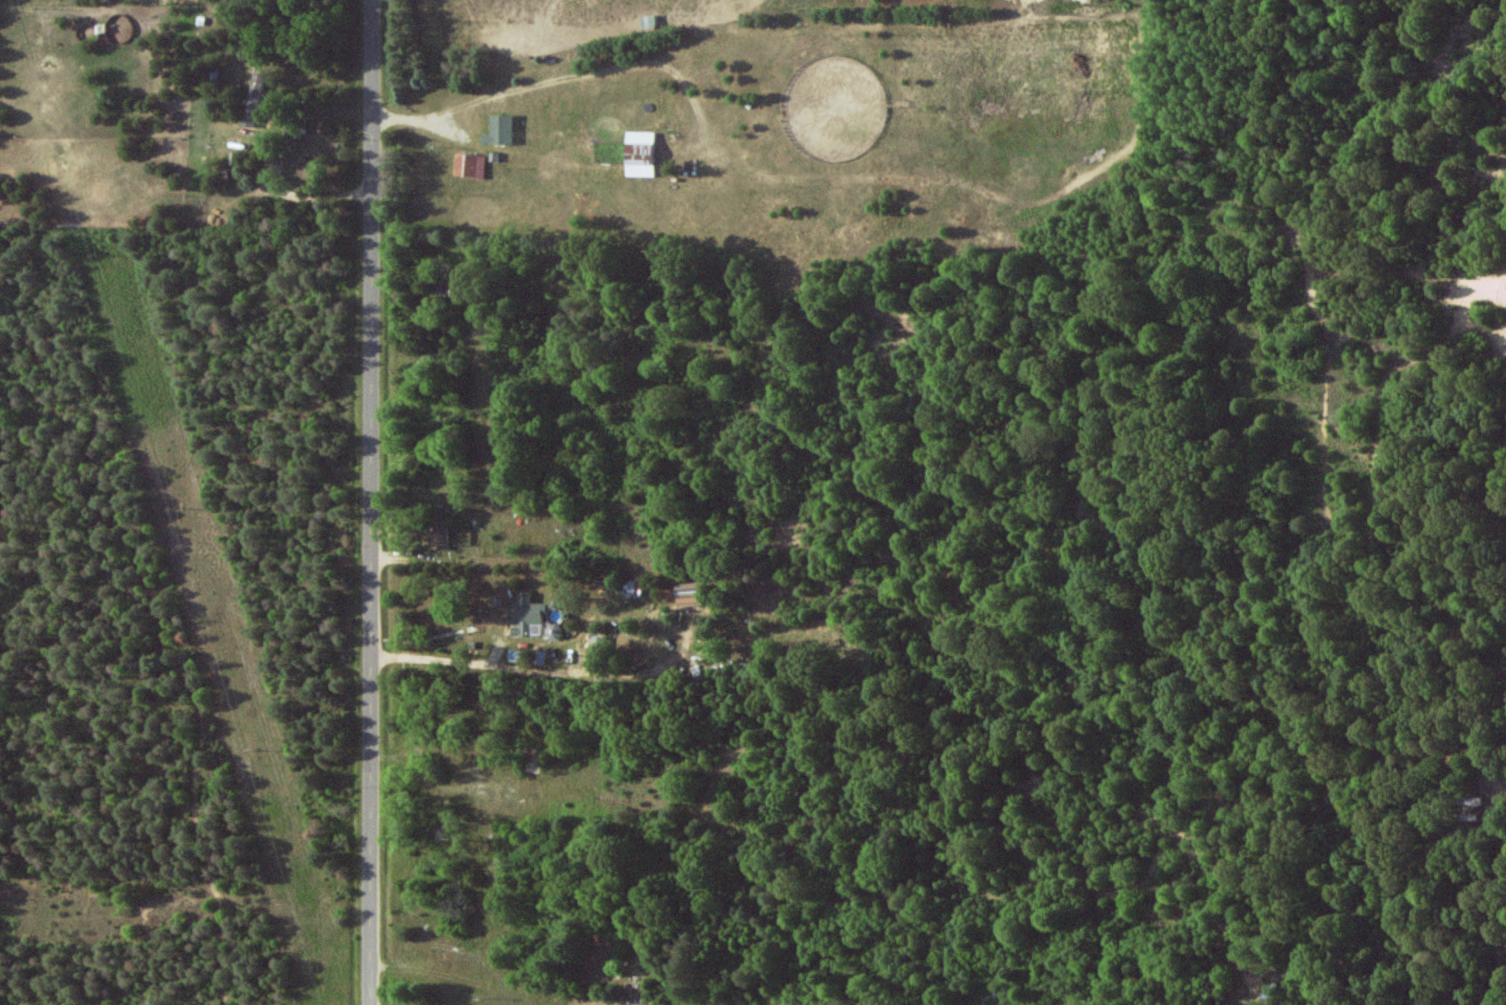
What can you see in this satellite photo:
building: (648, 21)
building: (254, 99)
building: (498, 129)
building: (291, 130)
building: (640, 153)
road: (264, 154)
building: (469, 165)
road: (300, 196)
road: (372, 502)
building: (439, 538)
road: (448, 560)
building: (526, 614)
road: (500, 658)
road: (192, 704)
road: (484, 775)
road: (1499, 900)

